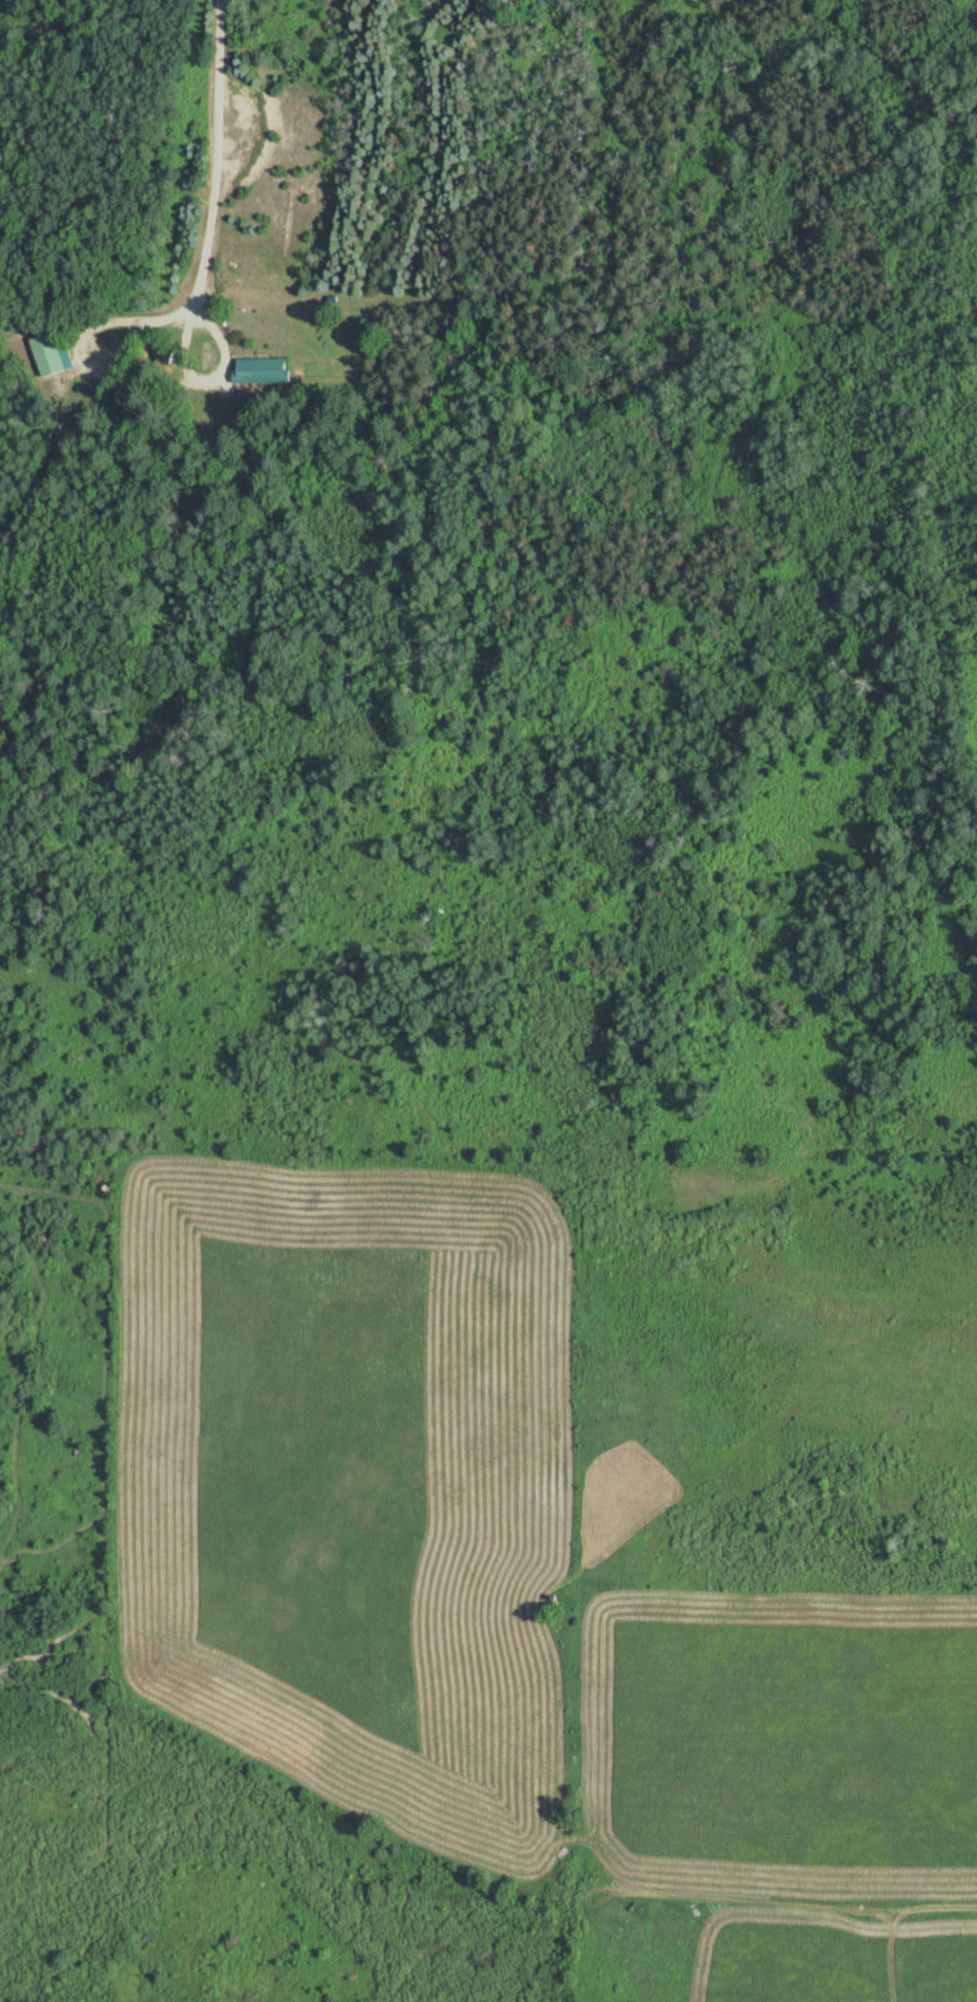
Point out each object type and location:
road: (207, 197)
building: (54, 353)
building: (263, 370)
road: (934, 1981)

